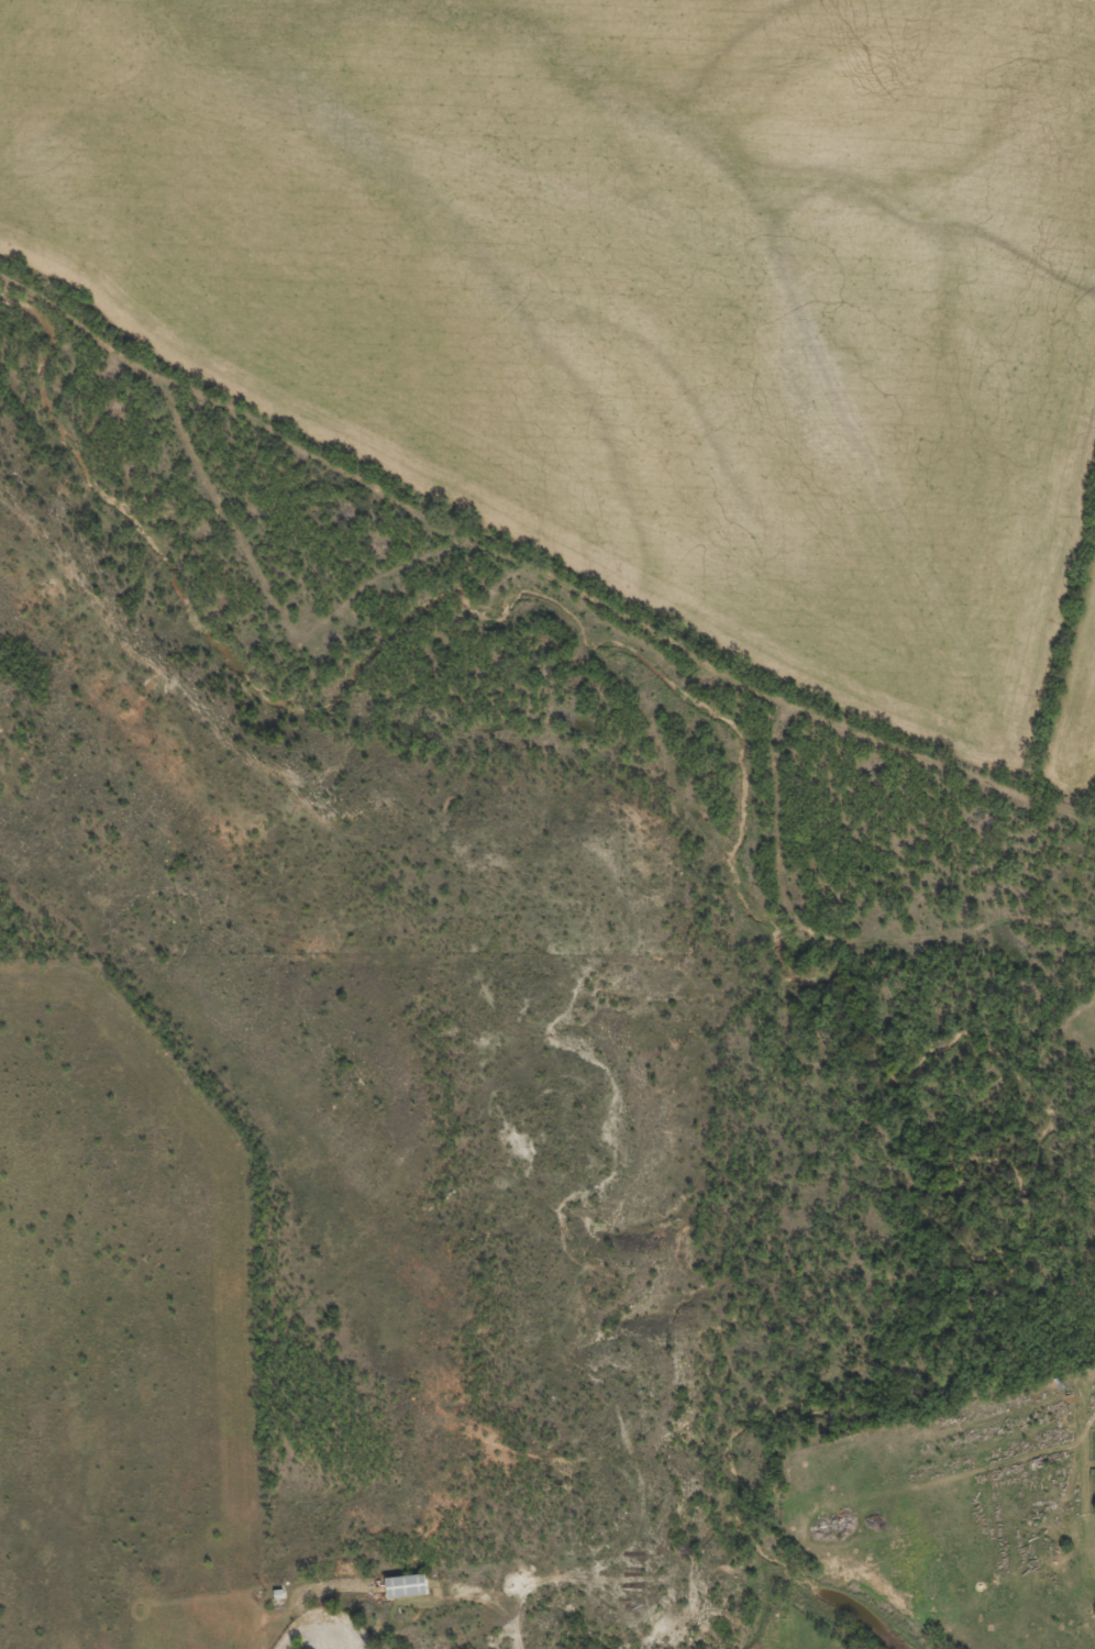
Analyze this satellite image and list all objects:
building: (407, 1584)

